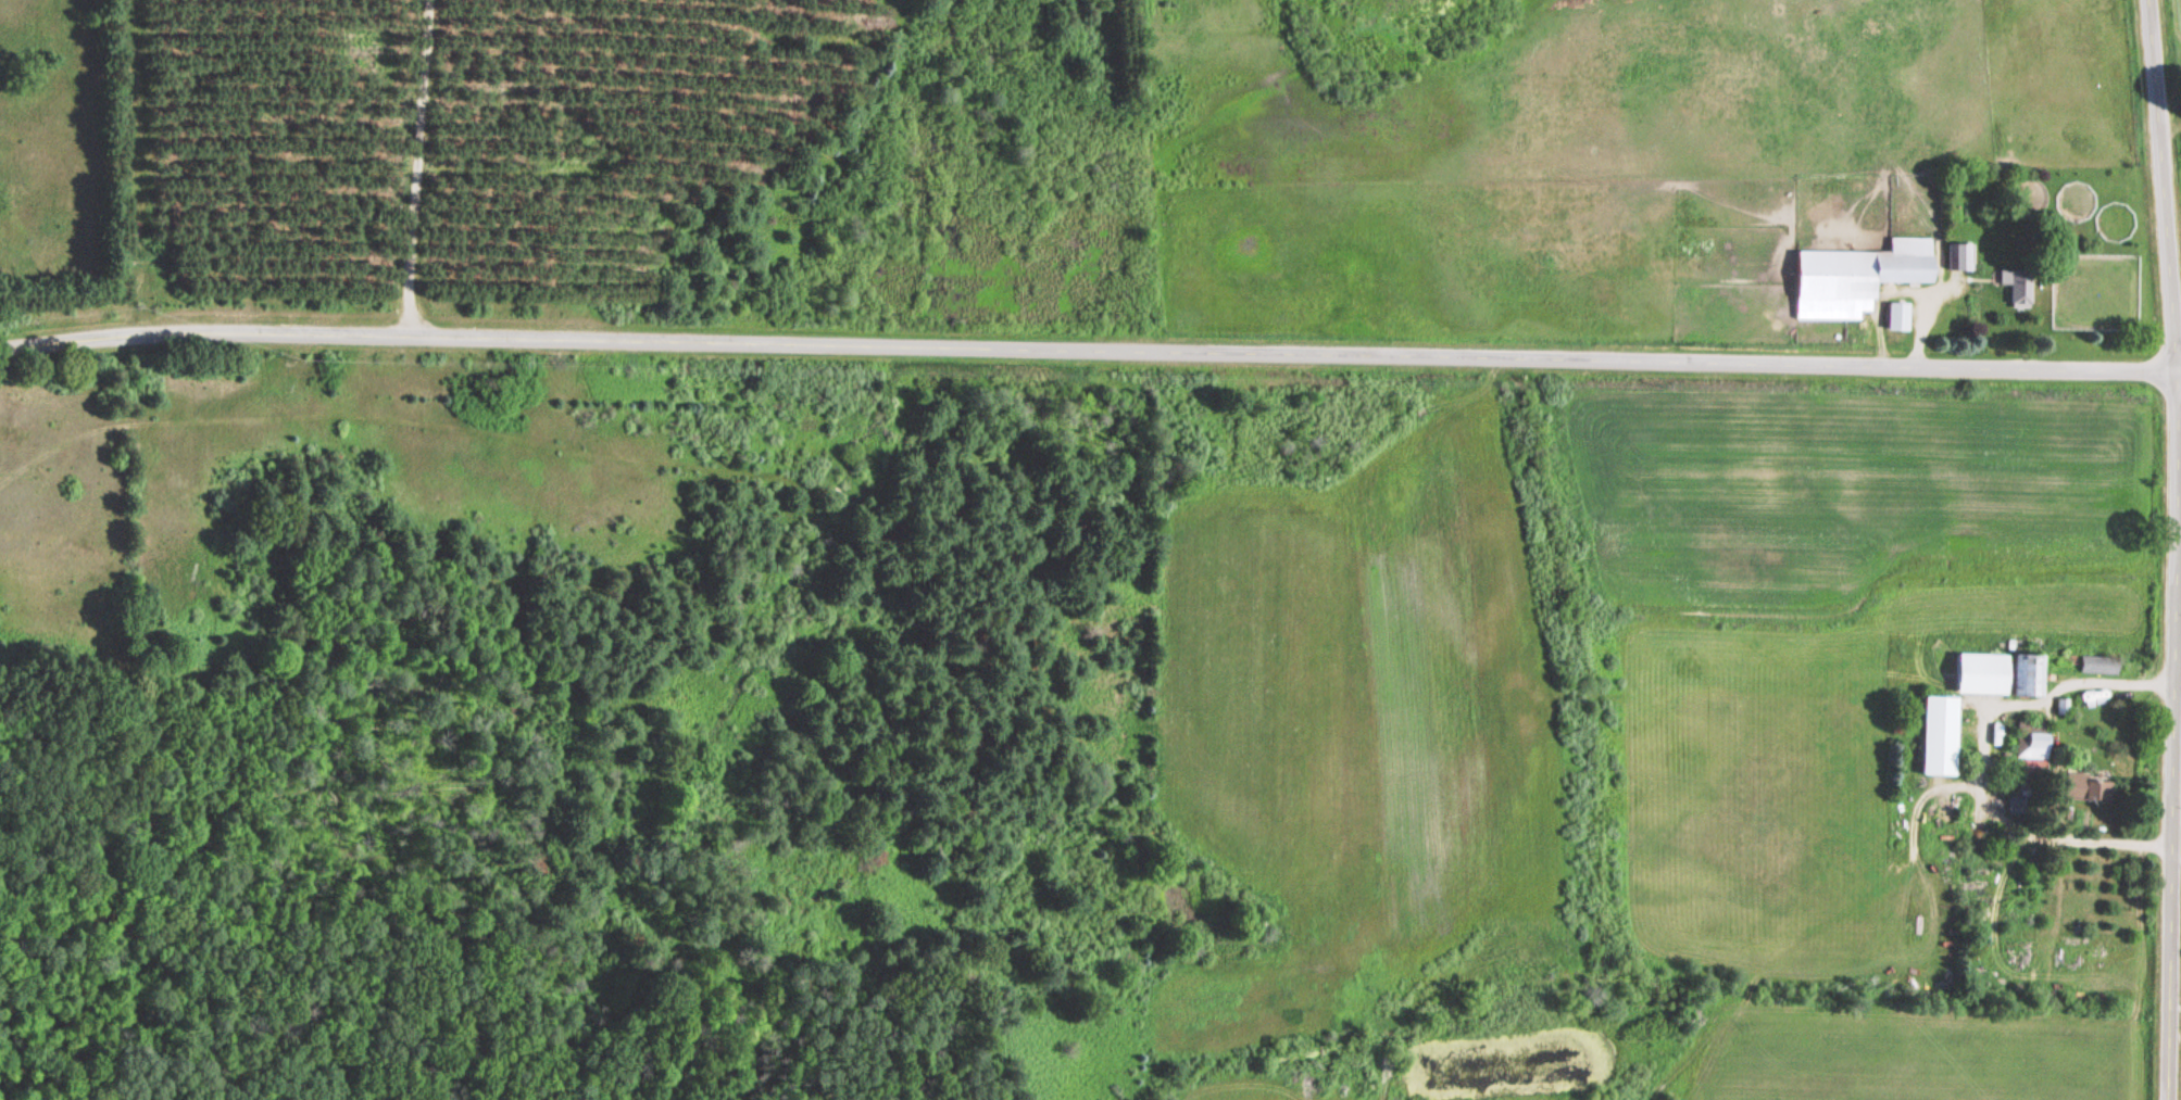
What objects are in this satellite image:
building: (1958, 257)
building: (1852, 278)
building: (2014, 288)
building: (1894, 317)
road: (1090, 349)
road: (2172, 549)
building: (1977, 672)
building: (2022, 673)
building: (1934, 734)
road: (421, 742)
building: (2034, 745)
building: (2082, 786)

